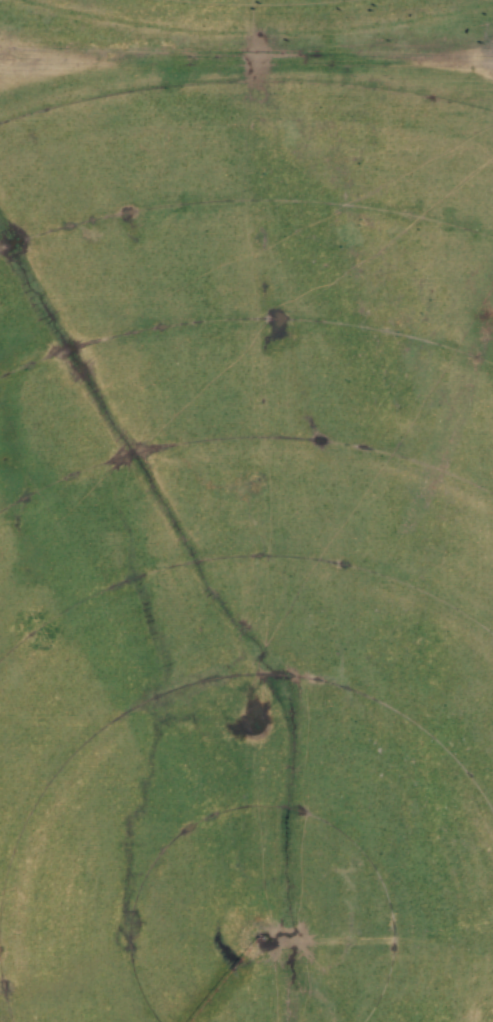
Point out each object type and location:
crop: (255, 27)
crop: (246, 538)

